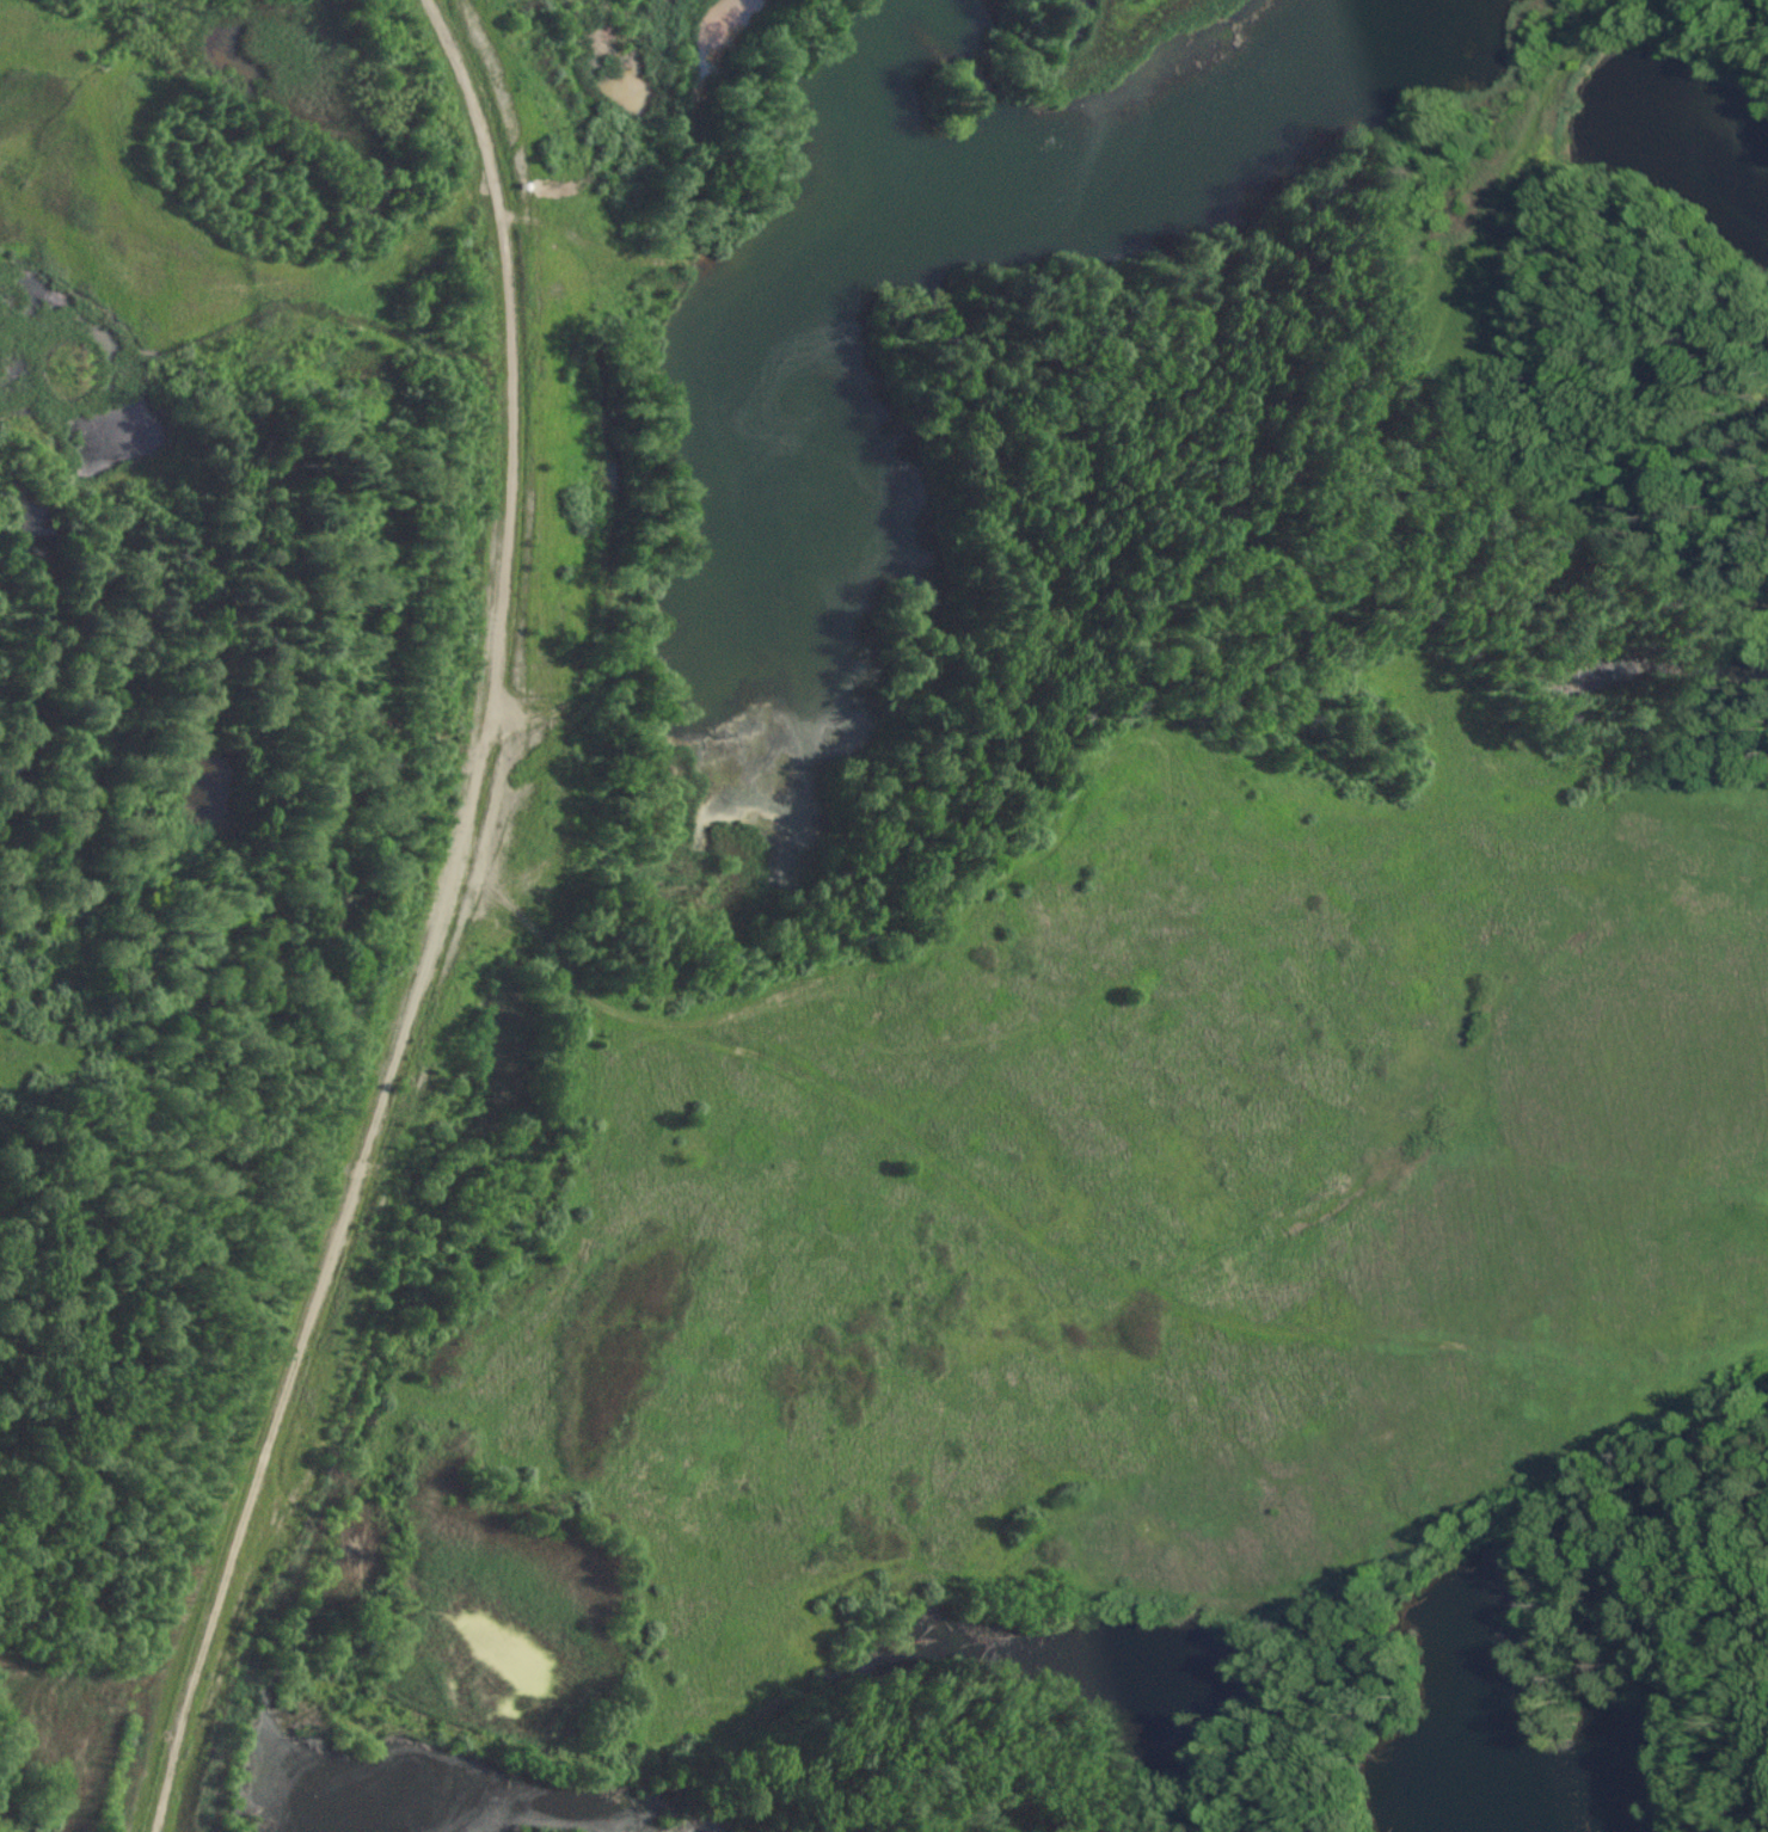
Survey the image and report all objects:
road: (436, 924)

